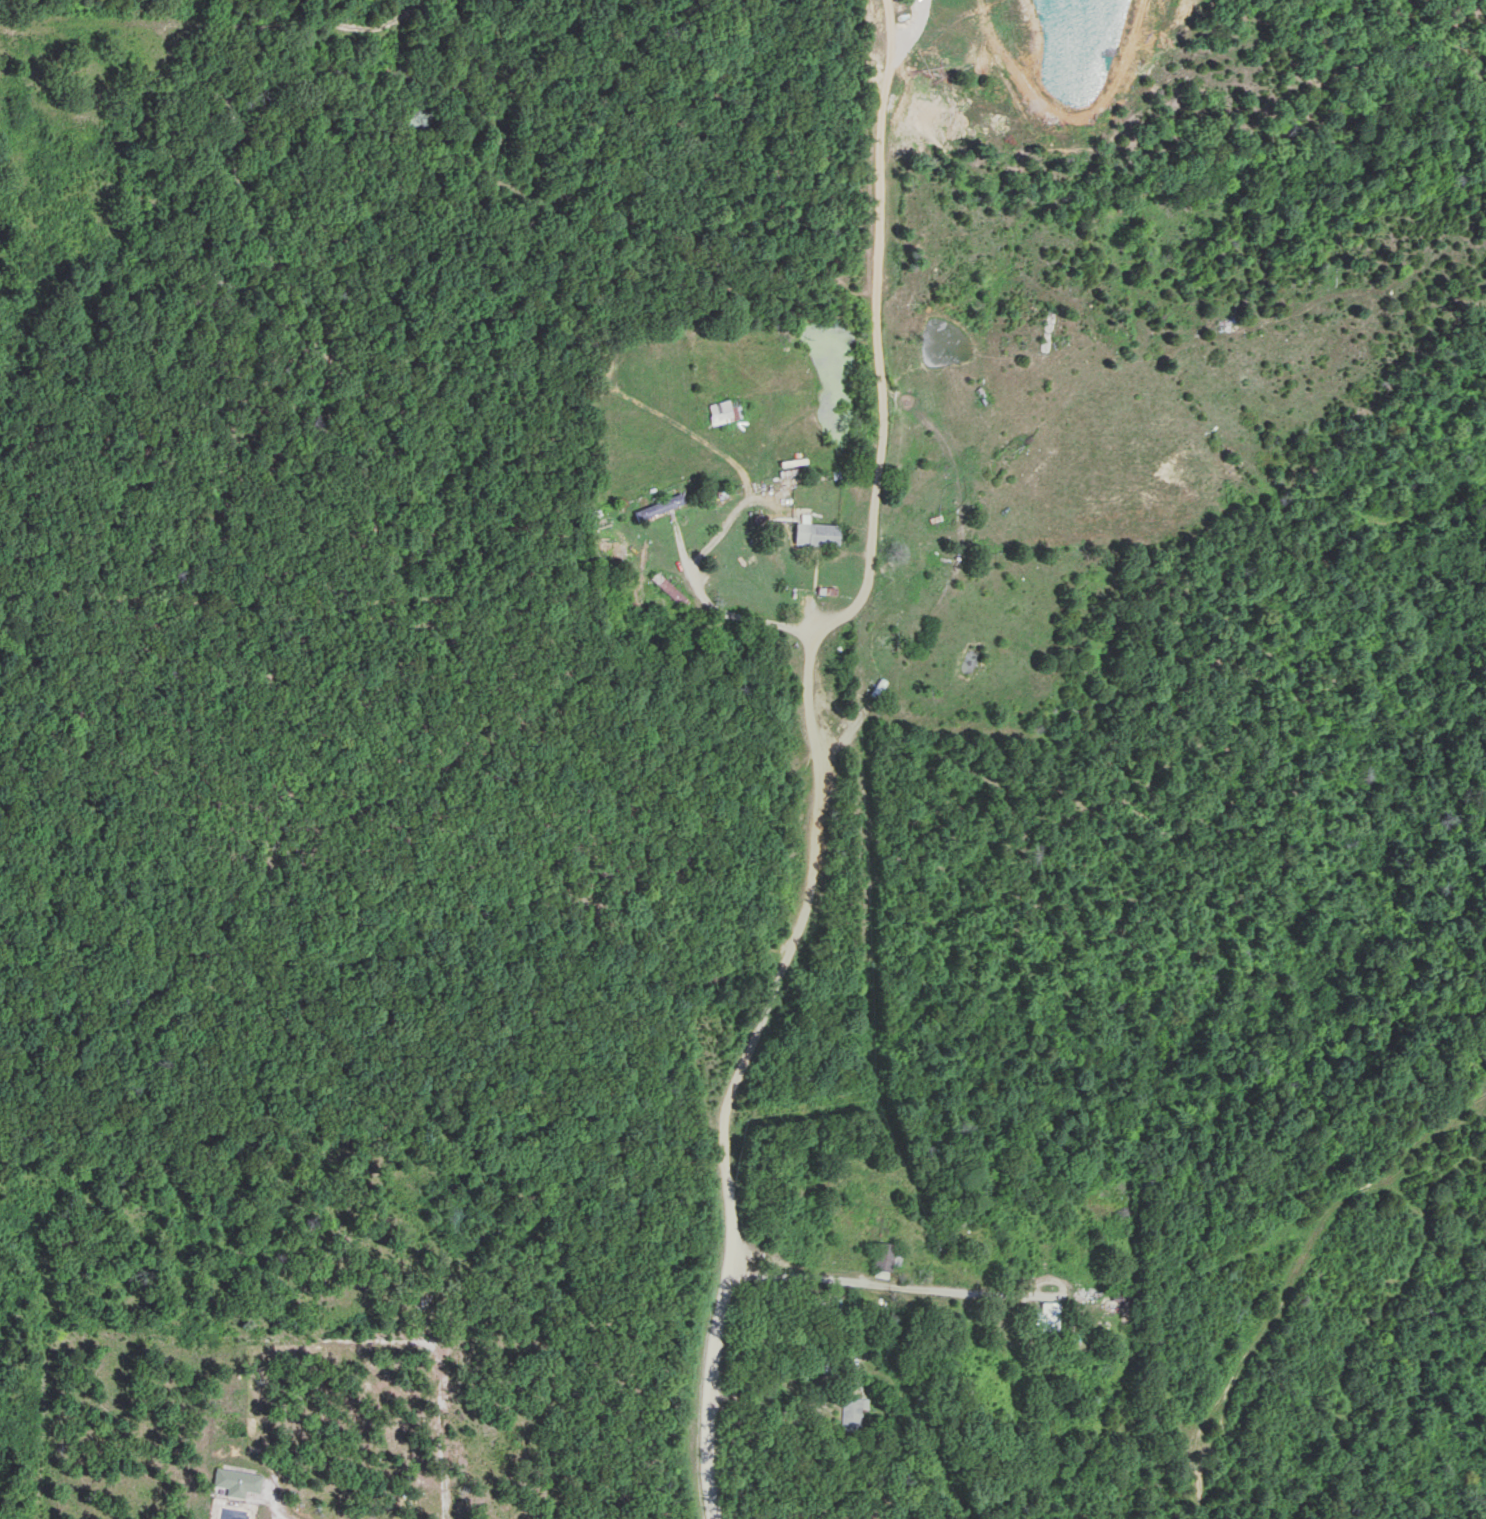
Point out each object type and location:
building: (720, 413)
building: (659, 507)
building: (815, 535)
building: (669, 590)
road: (747, 613)
building: (876, 622)
road: (808, 754)
building: (886, 1256)
road: (878, 1284)
building: (1052, 1315)
building: (854, 1413)
building: (238, 1481)

